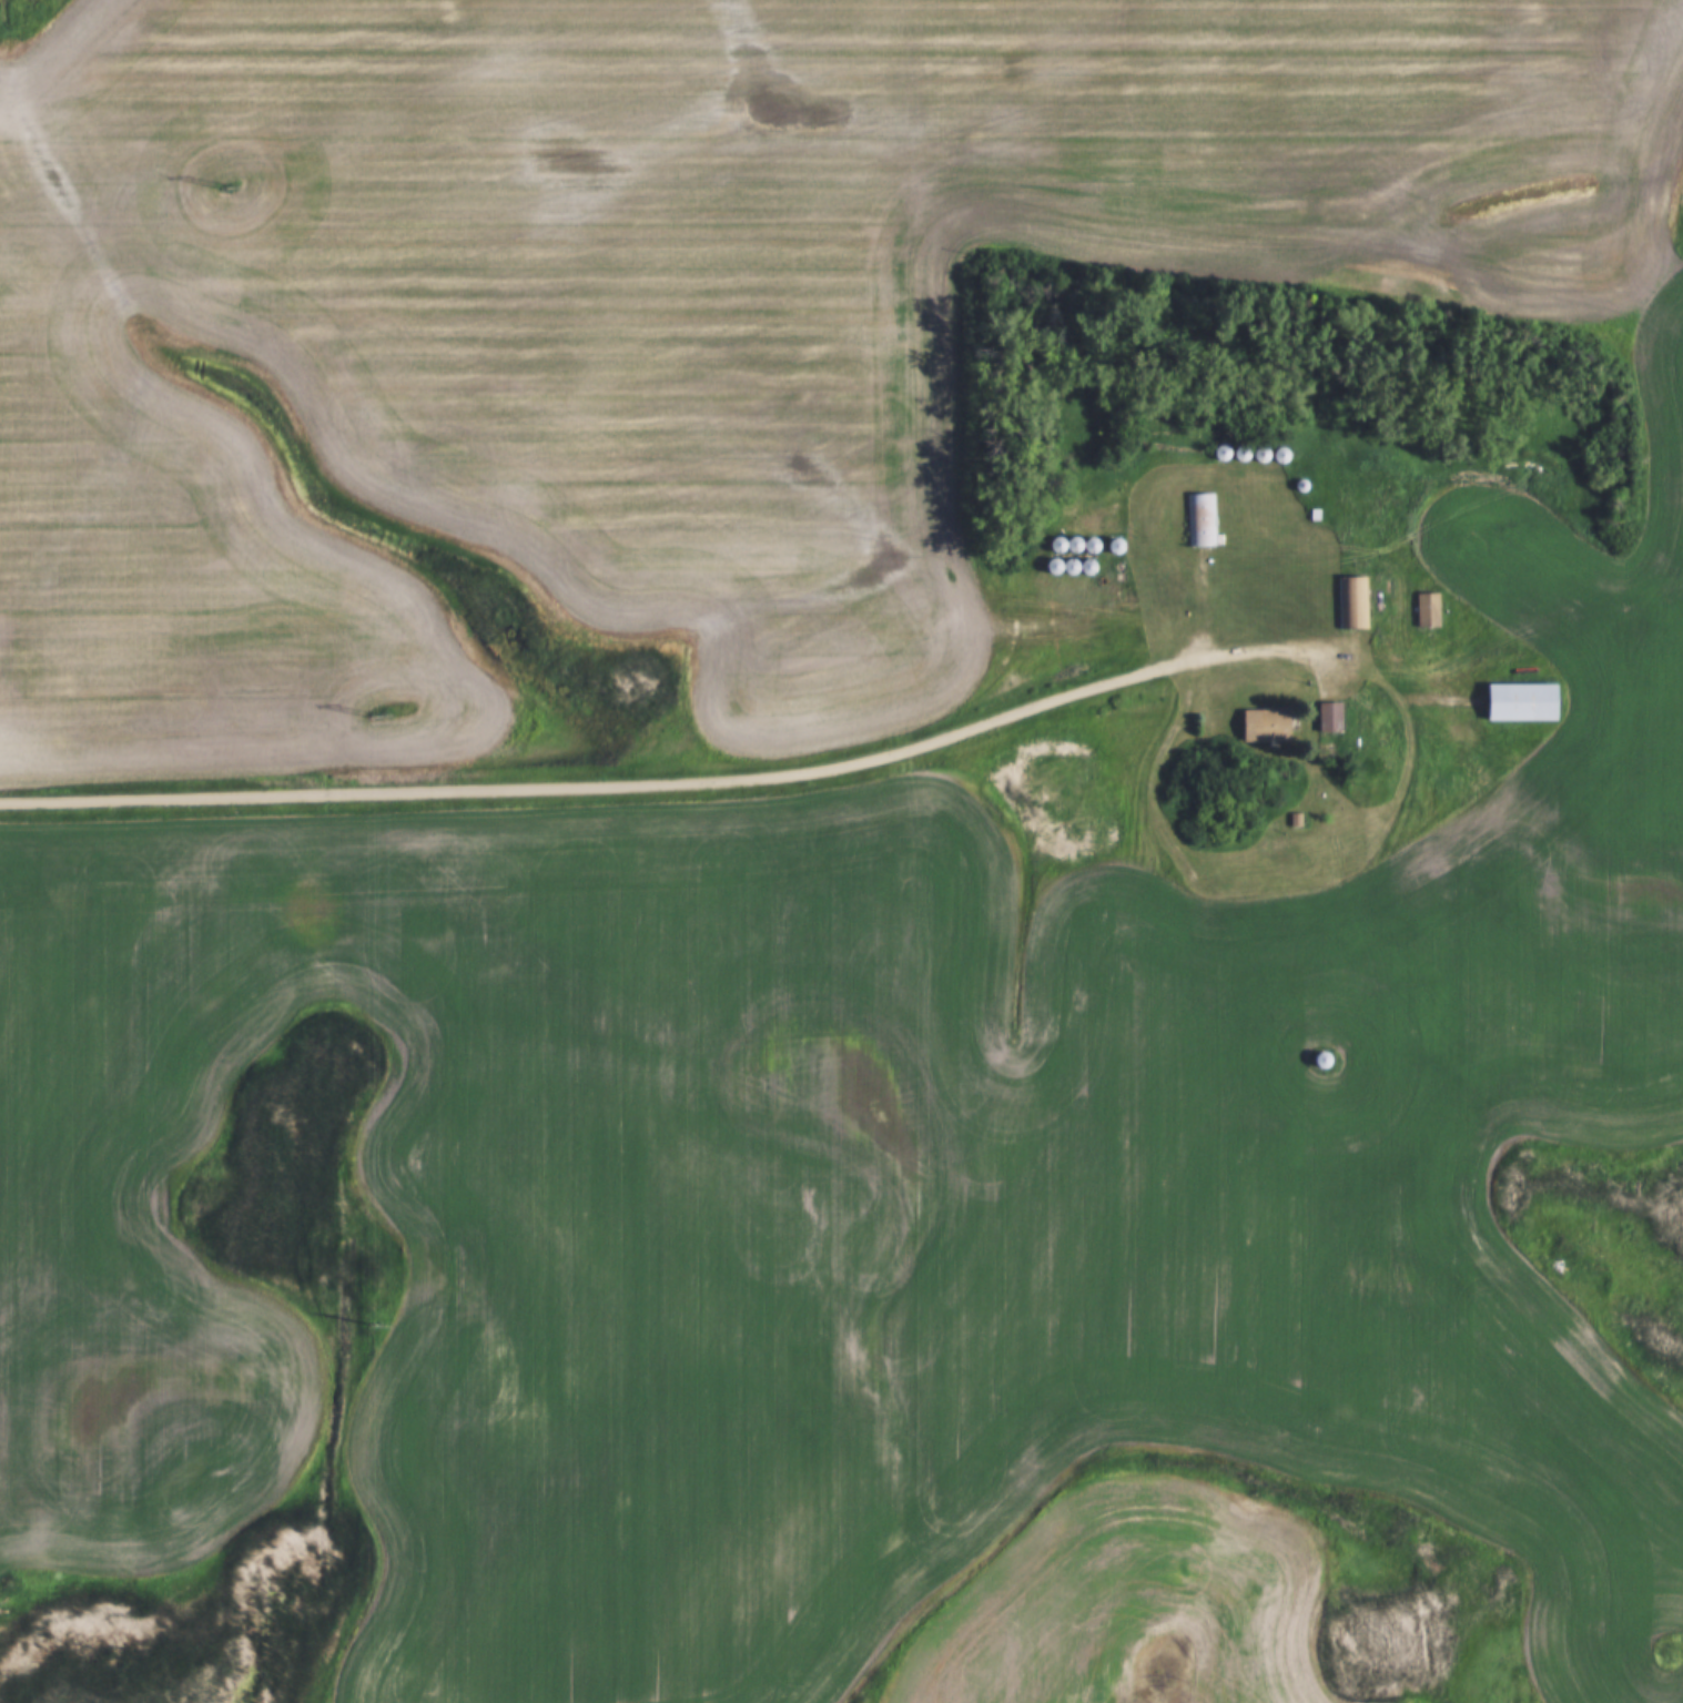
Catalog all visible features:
building: (1258, 456)
building: (1279, 457)
building: (1198, 519)
building: (1066, 553)
building: (1350, 602)
building: (1426, 609)
building: (1520, 702)
building: (1328, 718)
building: (1265, 726)
road: (681, 783)
building: (1316, 1061)

